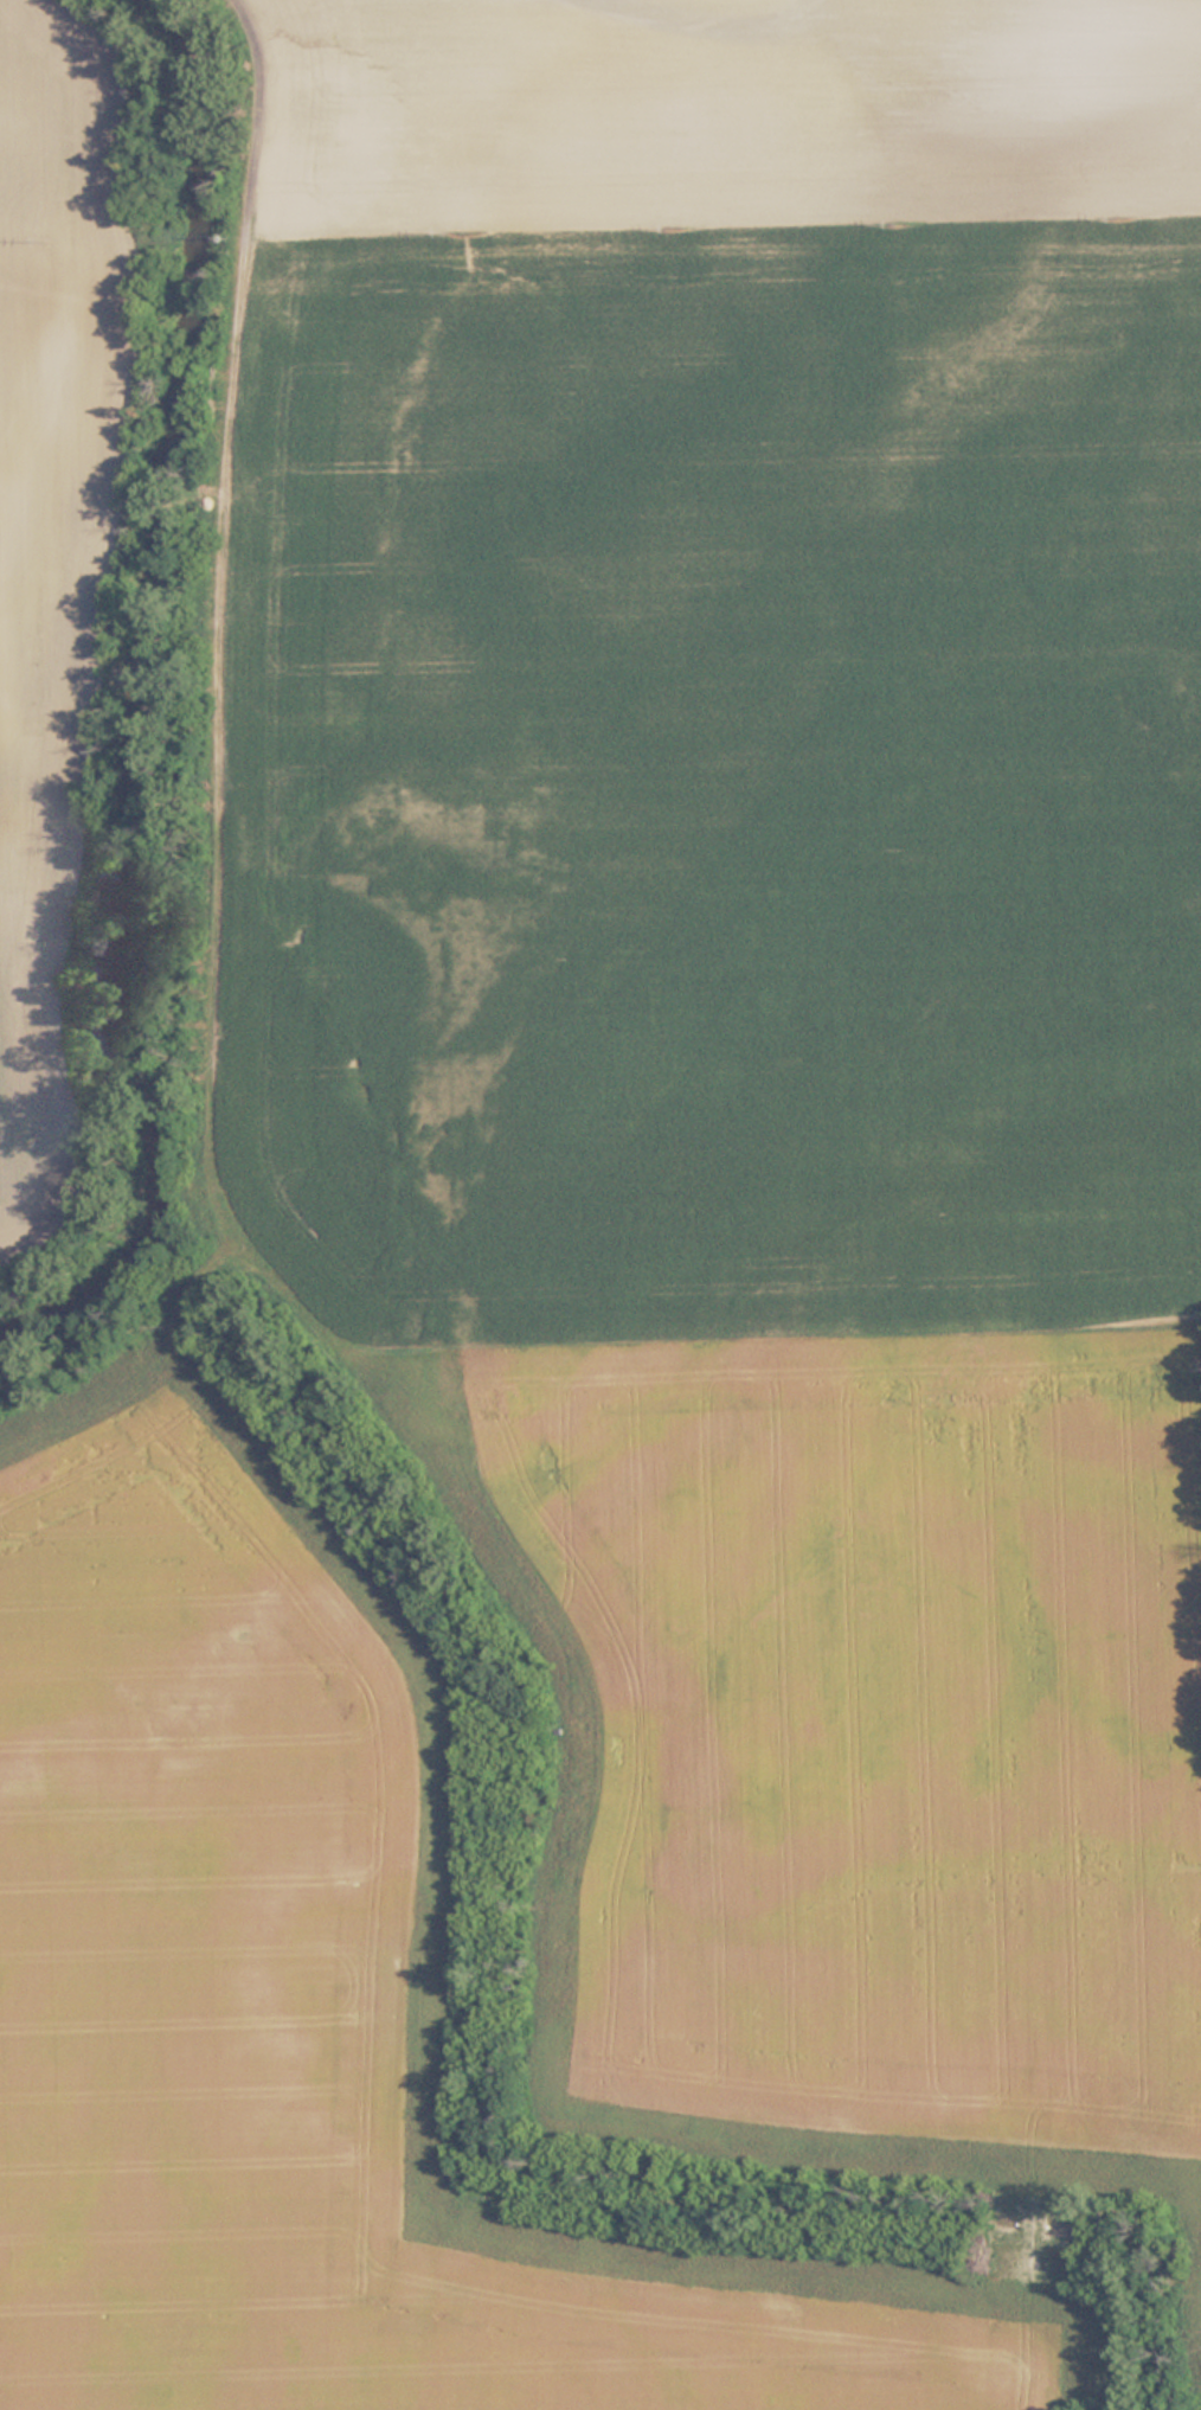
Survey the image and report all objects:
river: (201, 156)
building: (501, 786)

